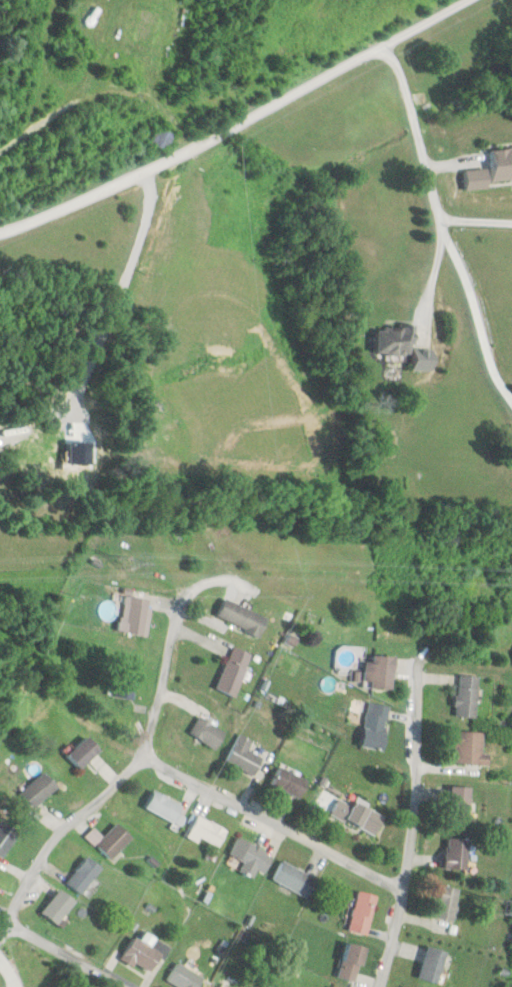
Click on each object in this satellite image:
road: (237, 123)
building: (163, 139)
building: (501, 163)
building: (393, 339)
power tower: (125, 563)
building: (136, 614)
building: (243, 616)
building: (234, 671)
building: (382, 671)
building: (125, 683)
building: (467, 696)
building: (375, 726)
building: (206, 732)
building: (470, 748)
building: (84, 752)
building: (243, 754)
road: (122, 774)
building: (288, 781)
building: (40, 789)
building: (460, 803)
building: (166, 807)
building: (358, 815)
road: (268, 822)
road: (408, 823)
building: (207, 831)
building: (8, 835)
building: (111, 840)
building: (457, 853)
building: (251, 856)
building: (84, 874)
building: (294, 878)
building: (447, 903)
building: (59, 906)
power tower: (509, 908)
building: (363, 912)
road: (61, 953)
building: (142, 954)
building: (351, 962)
building: (432, 964)
building: (185, 977)
building: (220, 986)

